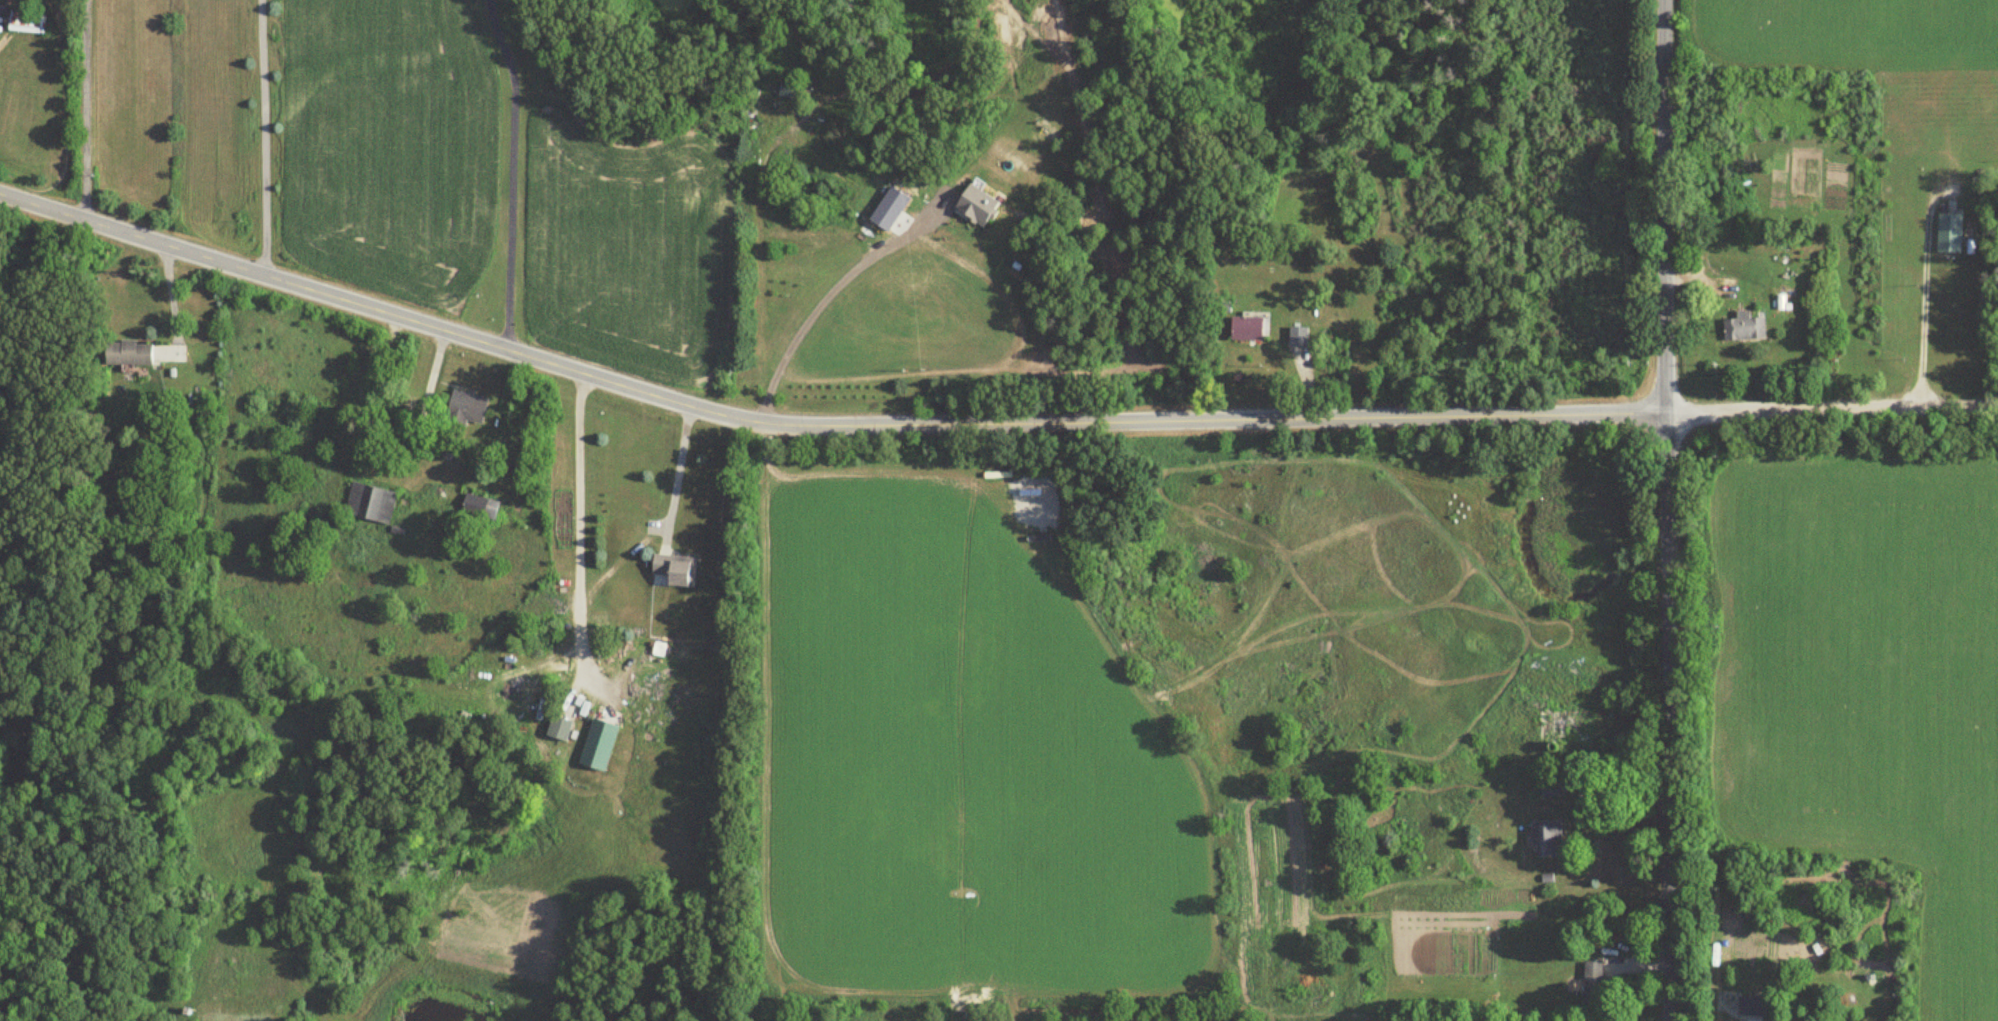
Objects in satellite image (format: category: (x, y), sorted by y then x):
building: (28, 23)
road: (85, 110)
road: (262, 139)
road: (511, 172)
building: (921, 184)
building: (1946, 234)
road: (819, 299)
building: (1250, 327)
building: (1741, 327)
road: (1923, 338)
building: (131, 354)
building: (1900, 371)
road: (1997, 406)
building: (462, 421)
road: (982, 424)
road: (675, 466)
building: (372, 504)
building: (476, 506)
road: (1667, 510)
road: (578, 532)
building: (678, 569)
building: (1558, 724)
building: (562, 727)
building: (602, 743)
building: (1545, 786)
building: (1544, 838)
building: (1589, 986)
building: (1748, 1006)

